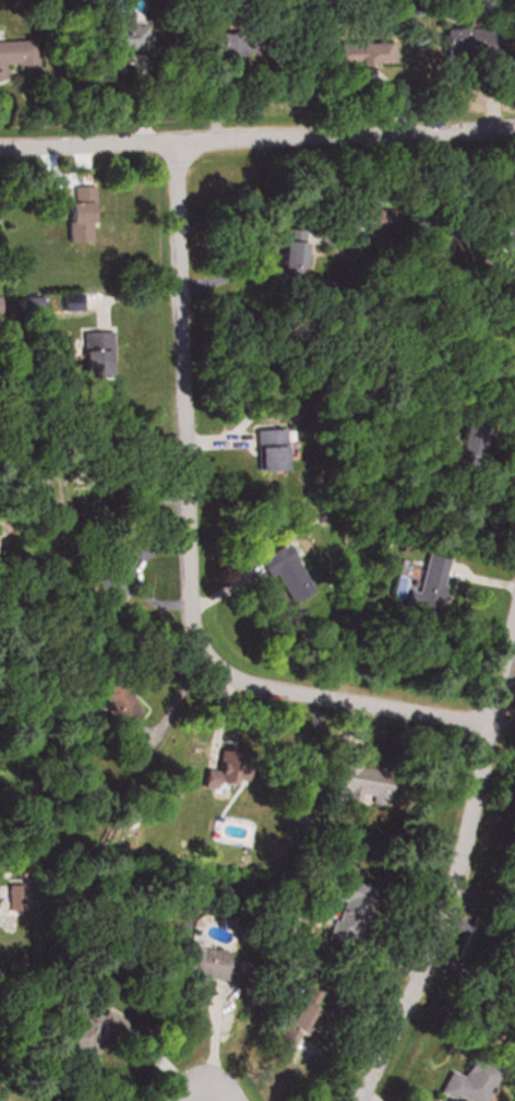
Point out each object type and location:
building: (466, 42)
building: (120, 44)
building: (220, 46)
building: (358, 56)
building: (17, 58)
road: (256, 133)
road: (366, 185)
building: (80, 213)
building: (506, 223)
building: (358, 228)
building: (288, 254)
building: (97, 346)
building: (268, 451)
road: (180, 547)
building: (284, 576)
building: (111, 581)
building: (427, 589)
road: (508, 648)
road: (506, 671)
building: (117, 708)
road: (501, 720)
building: (211, 781)
building: (360, 784)
road: (456, 854)
building: (347, 916)
building: (195, 964)
building: (508, 973)
building: (297, 1020)
building: (89, 1031)
building: (463, 1084)
road: (183, 1096)

